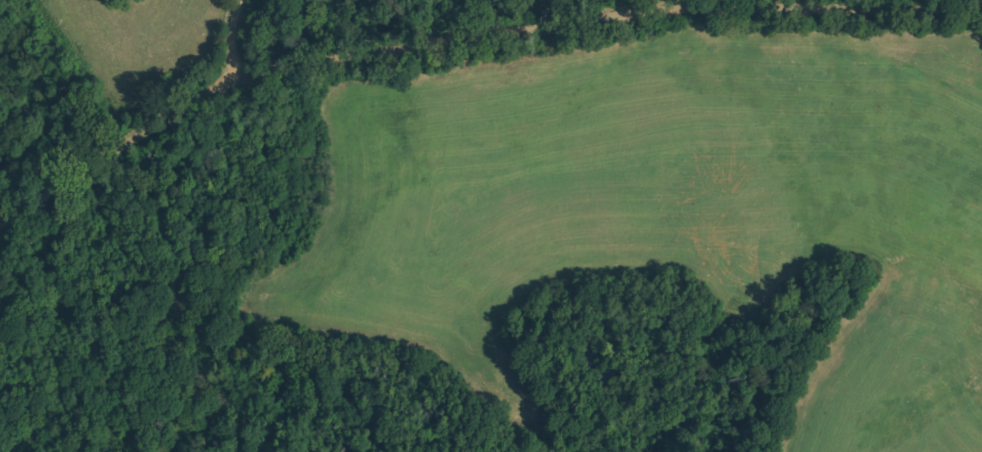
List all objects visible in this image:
road: (466, 21)

